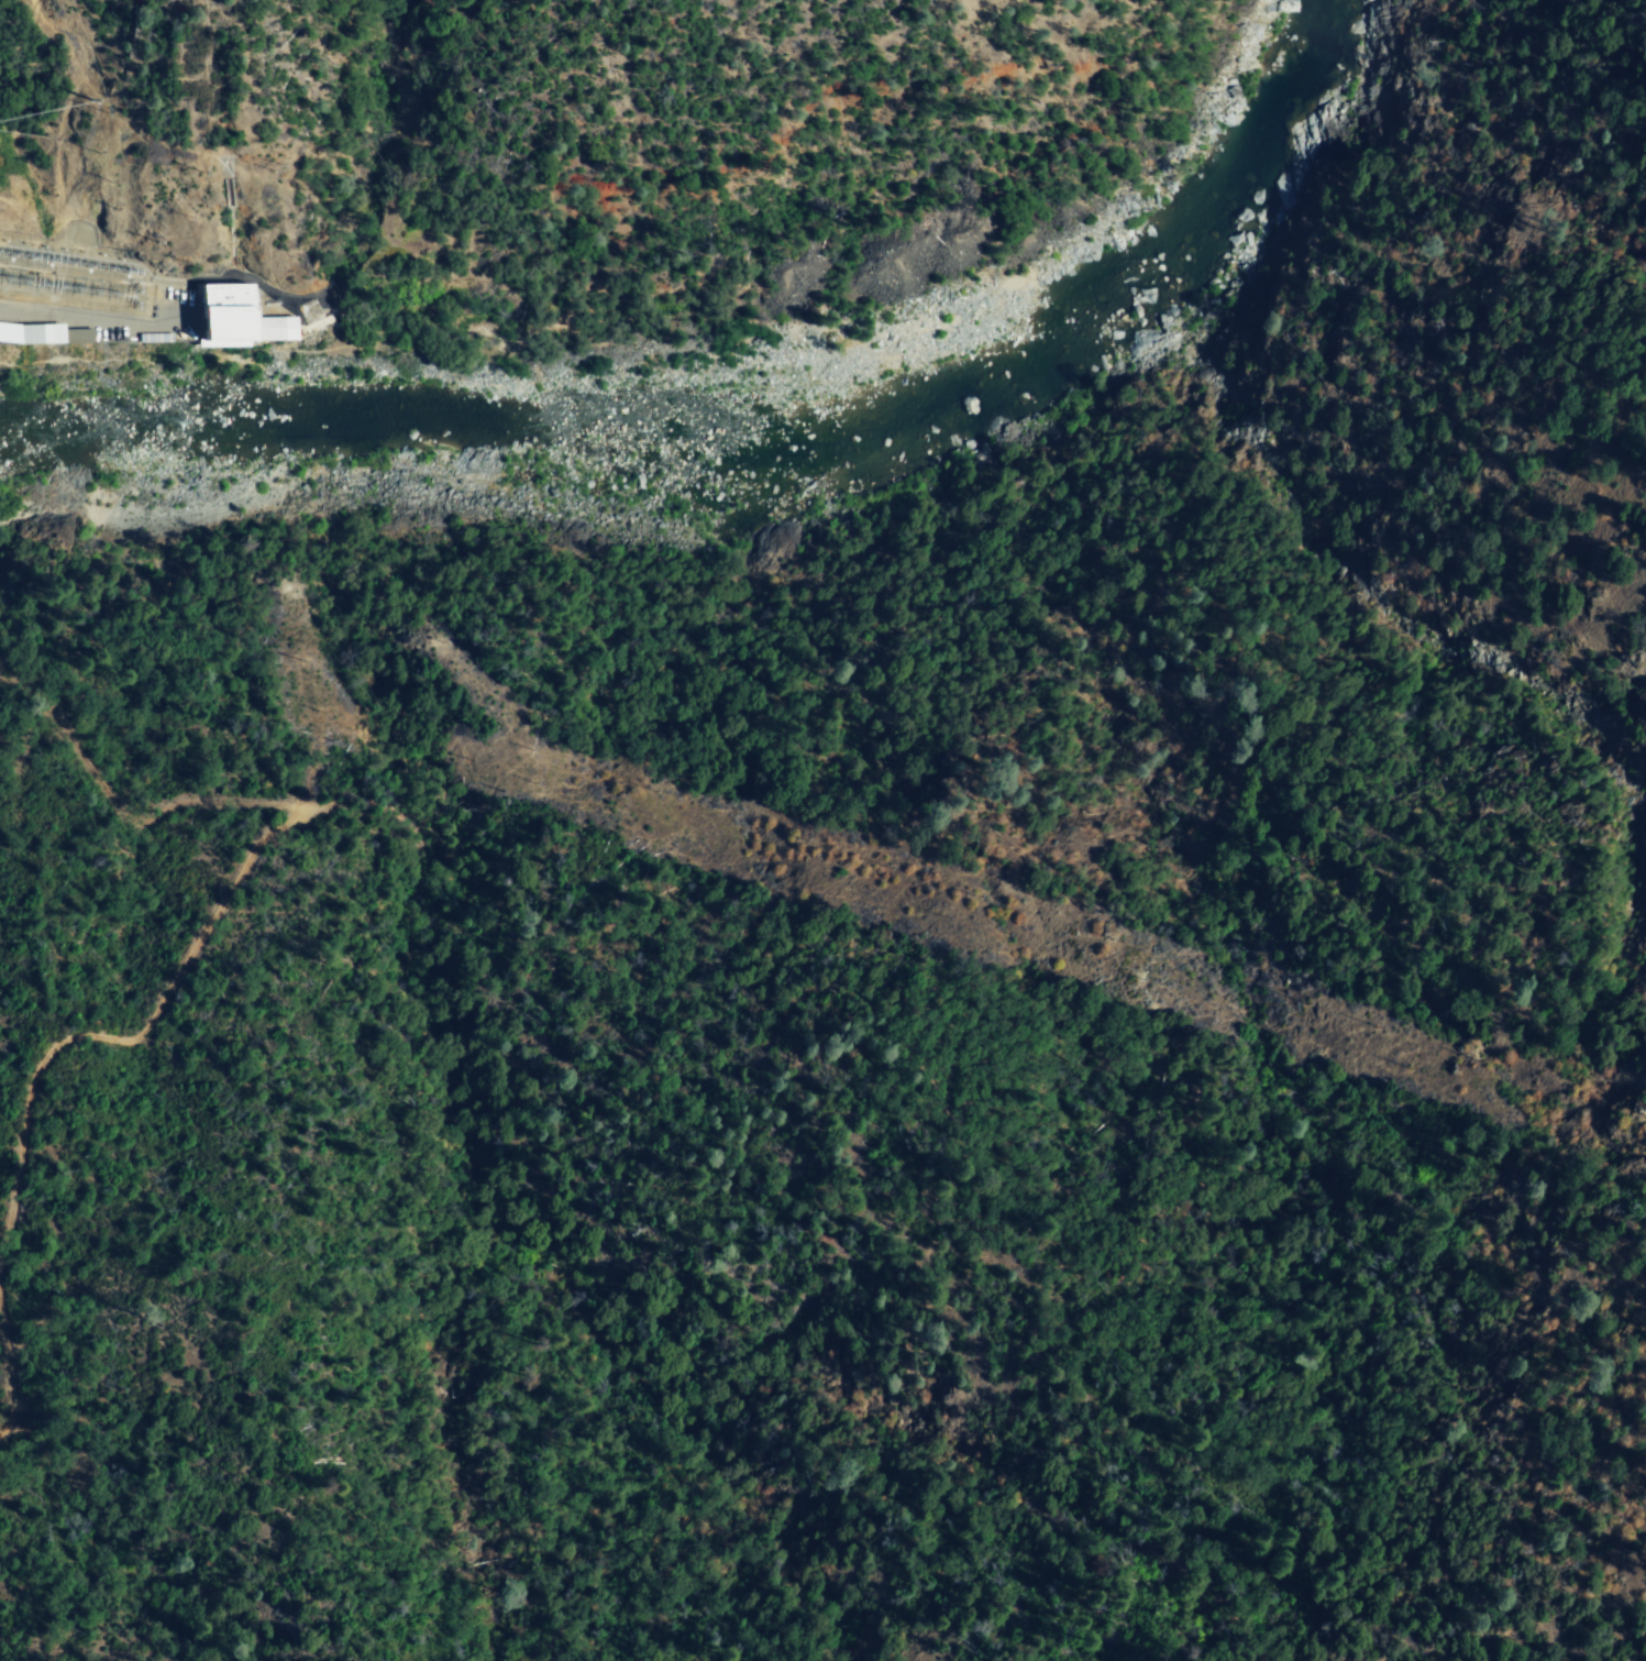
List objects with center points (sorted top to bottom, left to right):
river: (1260, 145)
road: (253, 164)
power substation: (76, 275)
building: (216, 313)
road: (84, 318)
building: (45, 335)
river: (598, 428)
power tower: (263, 587)
road: (1600, 1533)
road: (1627, 1657)

